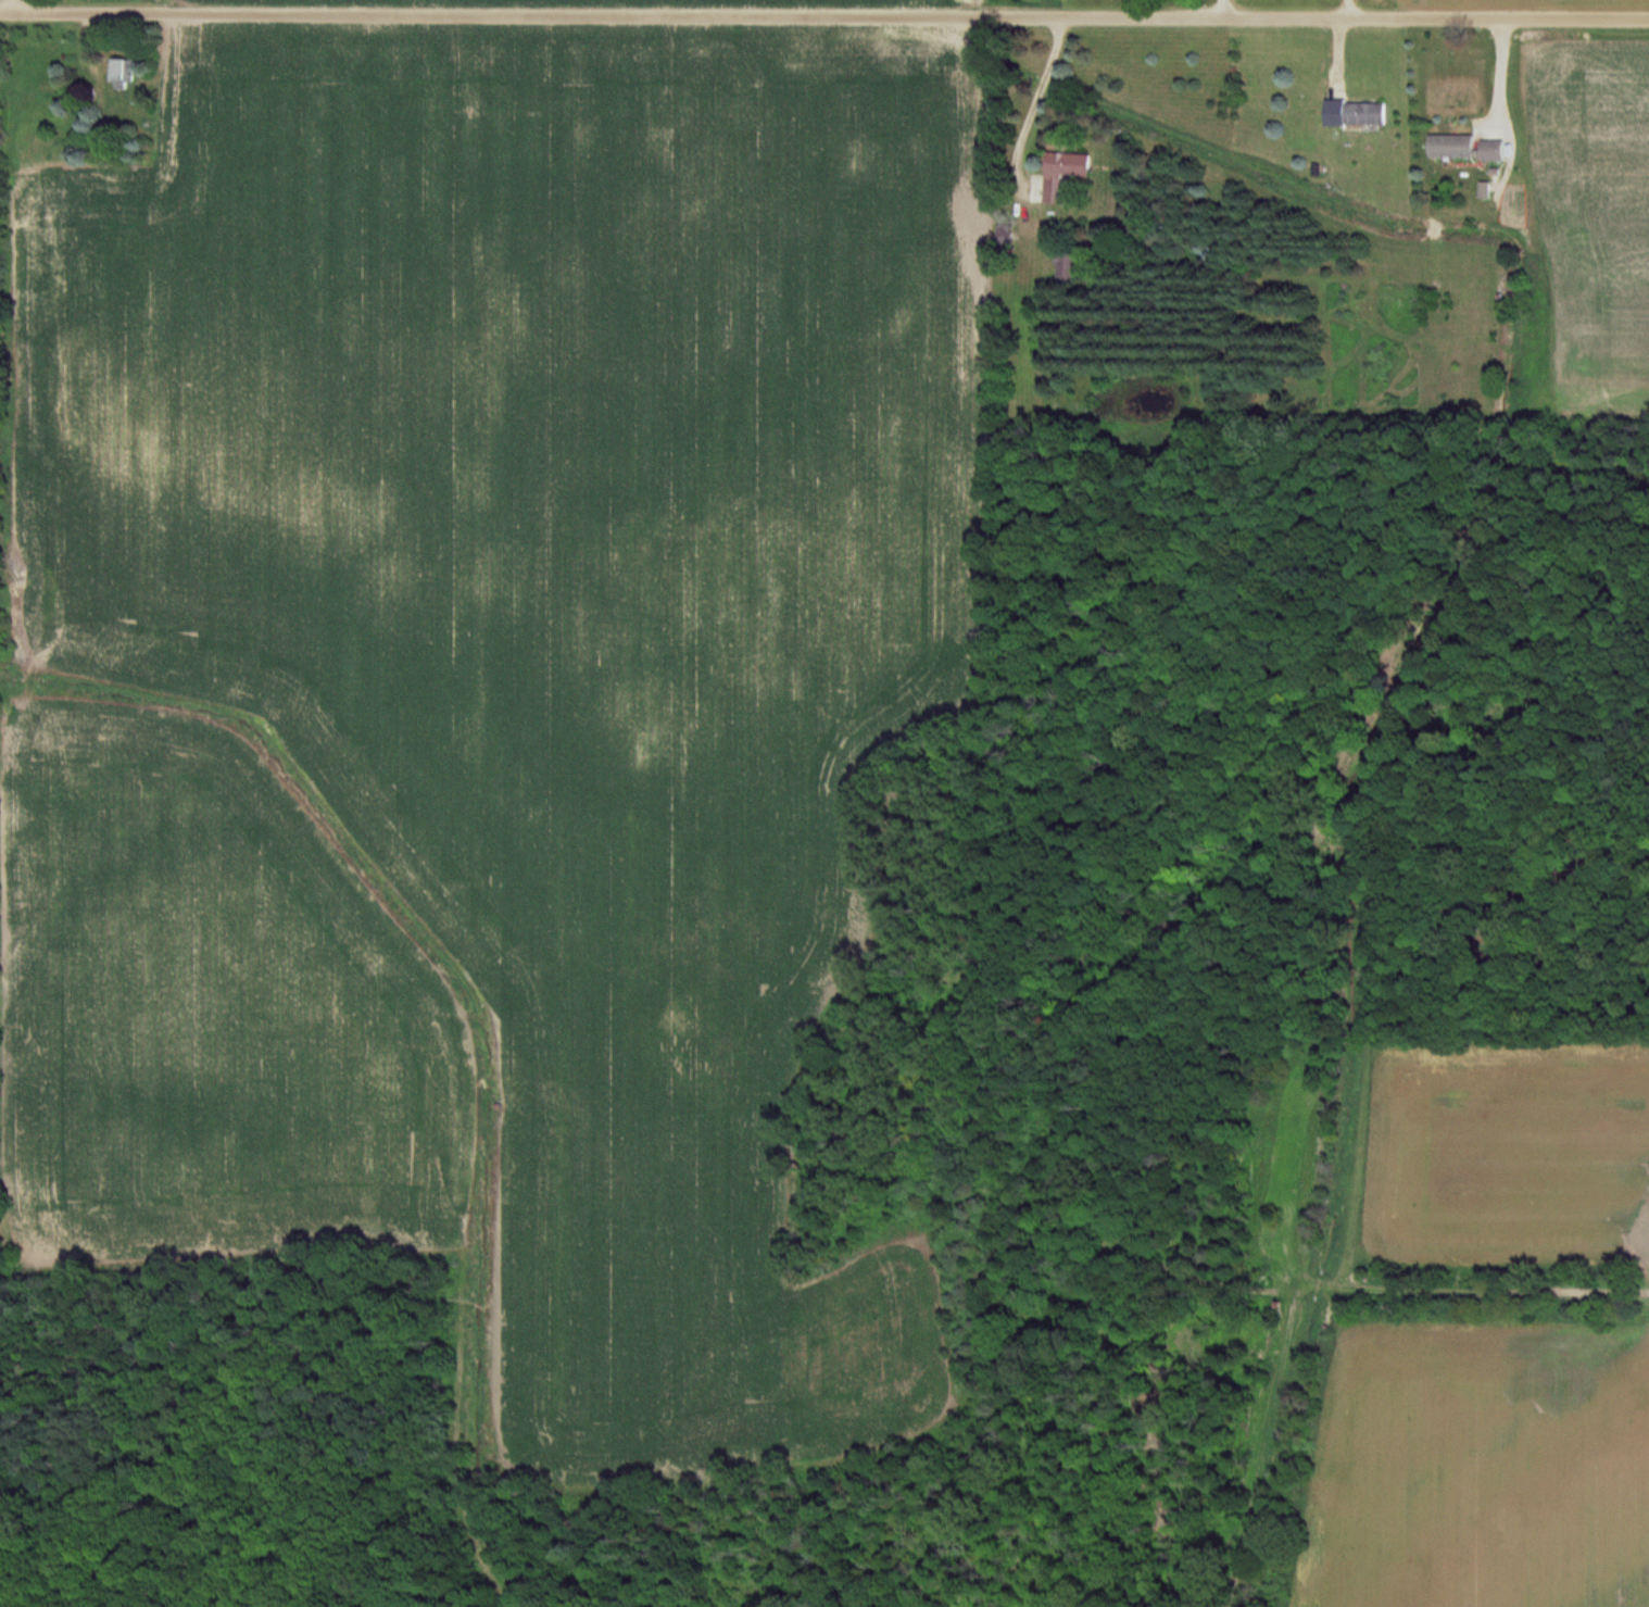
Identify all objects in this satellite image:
road: (15, 4)
road: (1222, 9)
road: (1350, 9)
road: (823, 14)
building: (125, 75)
road: (1034, 108)
building: (1357, 112)
building: (1469, 147)
building: (1066, 172)
building: (1069, 267)

